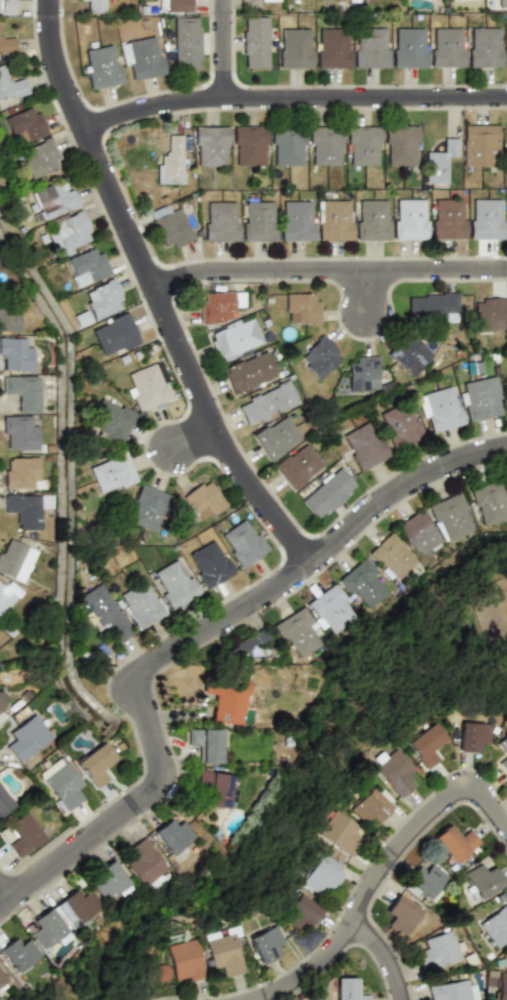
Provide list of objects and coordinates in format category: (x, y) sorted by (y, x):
building: (261, 0)
building: (340, 0)
building: (349, 0)
building: (501, 3)
building: (95, 5)
building: (7, 6)
building: (175, 6)
building: (255, 42)
building: (7, 43)
building: (187, 43)
road: (231, 47)
building: (447, 47)
building: (485, 47)
building: (506, 47)
building: (296, 48)
building: (333, 48)
building: (371, 48)
building: (409, 48)
building: (143, 57)
building: (102, 66)
building: (12, 84)
road: (293, 94)
building: (26, 123)
building: (506, 144)
building: (324, 145)
building: (401, 145)
building: (479, 145)
building: (211, 146)
building: (250, 146)
building: (287, 146)
building: (363, 146)
building: (40, 158)
building: (440, 161)
building: (171, 162)
building: (53, 200)
building: (448, 218)
building: (410, 219)
building: (486, 219)
building: (333, 220)
building: (372, 220)
building: (221, 221)
building: (259, 221)
building: (297, 221)
building: (171, 227)
building: (70, 233)
building: (86, 266)
road: (332, 277)
road: (161, 296)
building: (103, 299)
road: (375, 299)
building: (220, 305)
building: (432, 306)
building: (302, 308)
building: (490, 314)
building: (9, 317)
building: (115, 334)
building: (236, 338)
building: (16, 353)
building: (409, 354)
building: (320, 356)
building: (250, 372)
building: (363, 373)
building: (149, 386)
building: (22, 392)
building: (506, 392)
building: (480, 398)
building: (268, 403)
building: (440, 410)
building: (111, 420)
building: (402, 425)
building: (21, 430)
building: (277, 437)
road: (202, 445)
building: (364, 446)
building: (298, 466)
building: (21, 473)
building: (111, 476)
building: (204, 500)
building: (488, 502)
building: (147, 508)
building: (26, 509)
building: (449, 518)
building: (418, 533)
building: (242, 542)
building: (392, 556)
building: (15, 560)
building: (209, 564)
road: (323, 565)
building: (175, 583)
building: (363, 584)
building: (7, 595)
building: (142, 604)
building: (329, 608)
building: (104, 611)
building: (296, 633)
building: (248, 642)
building: (0, 694)
building: (227, 699)
road: (181, 716)
building: (471, 735)
building: (29, 736)
building: (206, 743)
building: (426, 744)
building: (502, 752)
building: (96, 763)
building: (394, 772)
building: (61, 784)
building: (216, 788)
building: (4, 802)
building: (369, 805)
road: (129, 818)
building: (339, 832)
building: (23, 834)
building: (7, 835)
building: (173, 835)
building: (453, 842)
building: (145, 864)
road: (380, 871)
building: (320, 875)
building: (109, 880)
building: (424, 880)
building: (480, 881)
road: (8, 895)
building: (73, 908)
building: (303, 908)
building: (402, 914)
building: (496, 925)
building: (45, 929)
building: (265, 943)
building: (437, 949)
building: (224, 950)
building: (18, 953)
road: (381, 957)
building: (185, 961)
building: (2, 981)
building: (500, 986)
building: (347, 989)
building: (448, 990)

